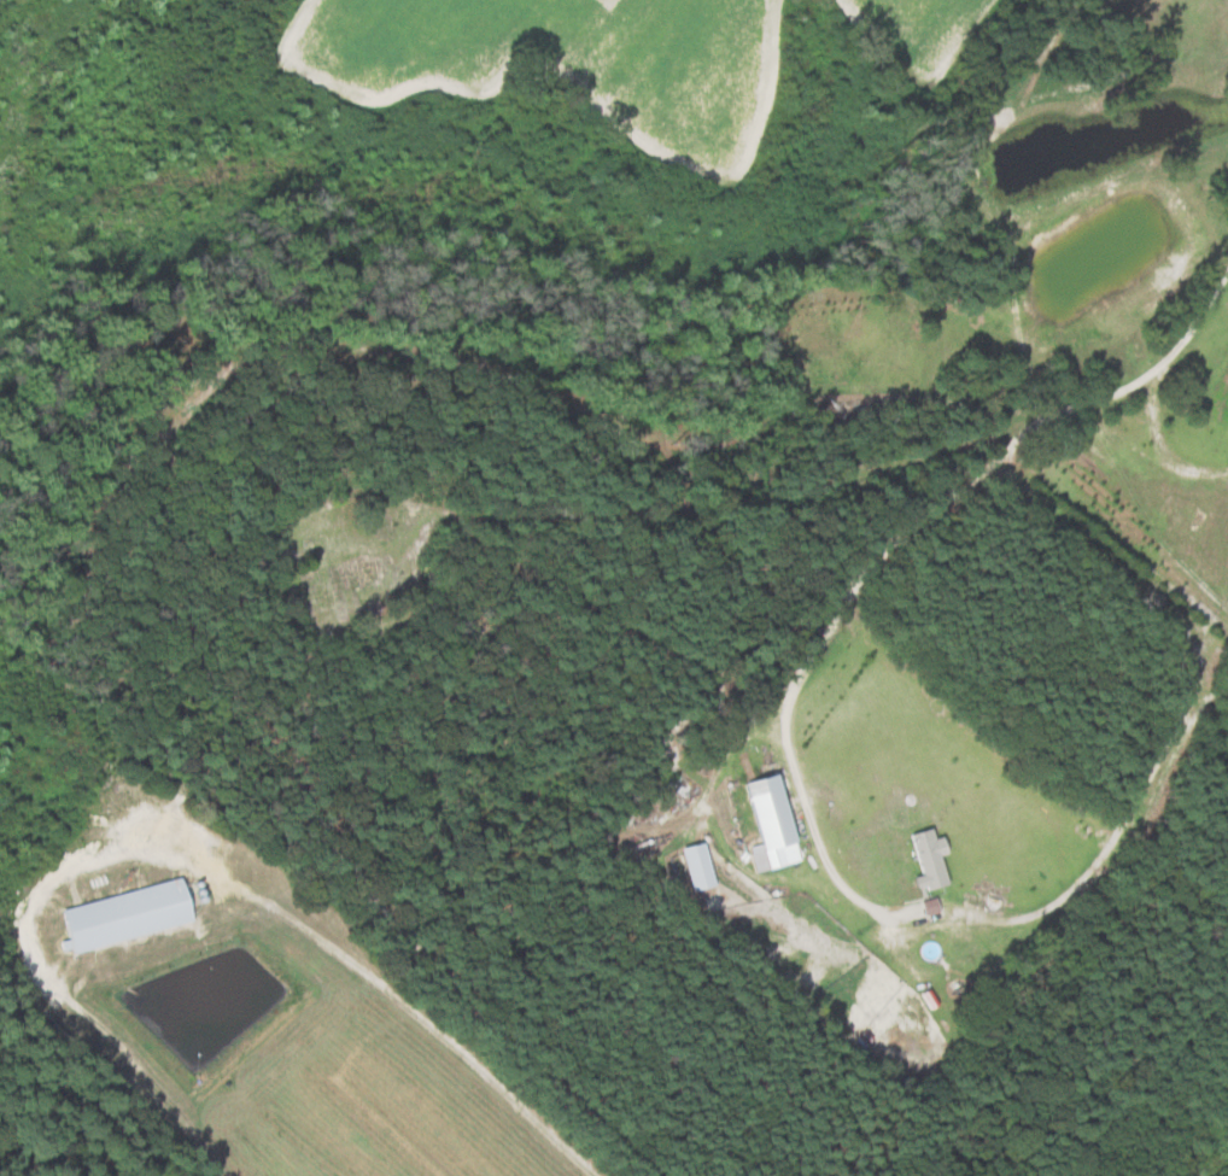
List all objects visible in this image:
road: (1130, 385)
building: (766, 819)
building: (925, 860)
building: (694, 867)
building: (121, 917)
road: (966, 917)

